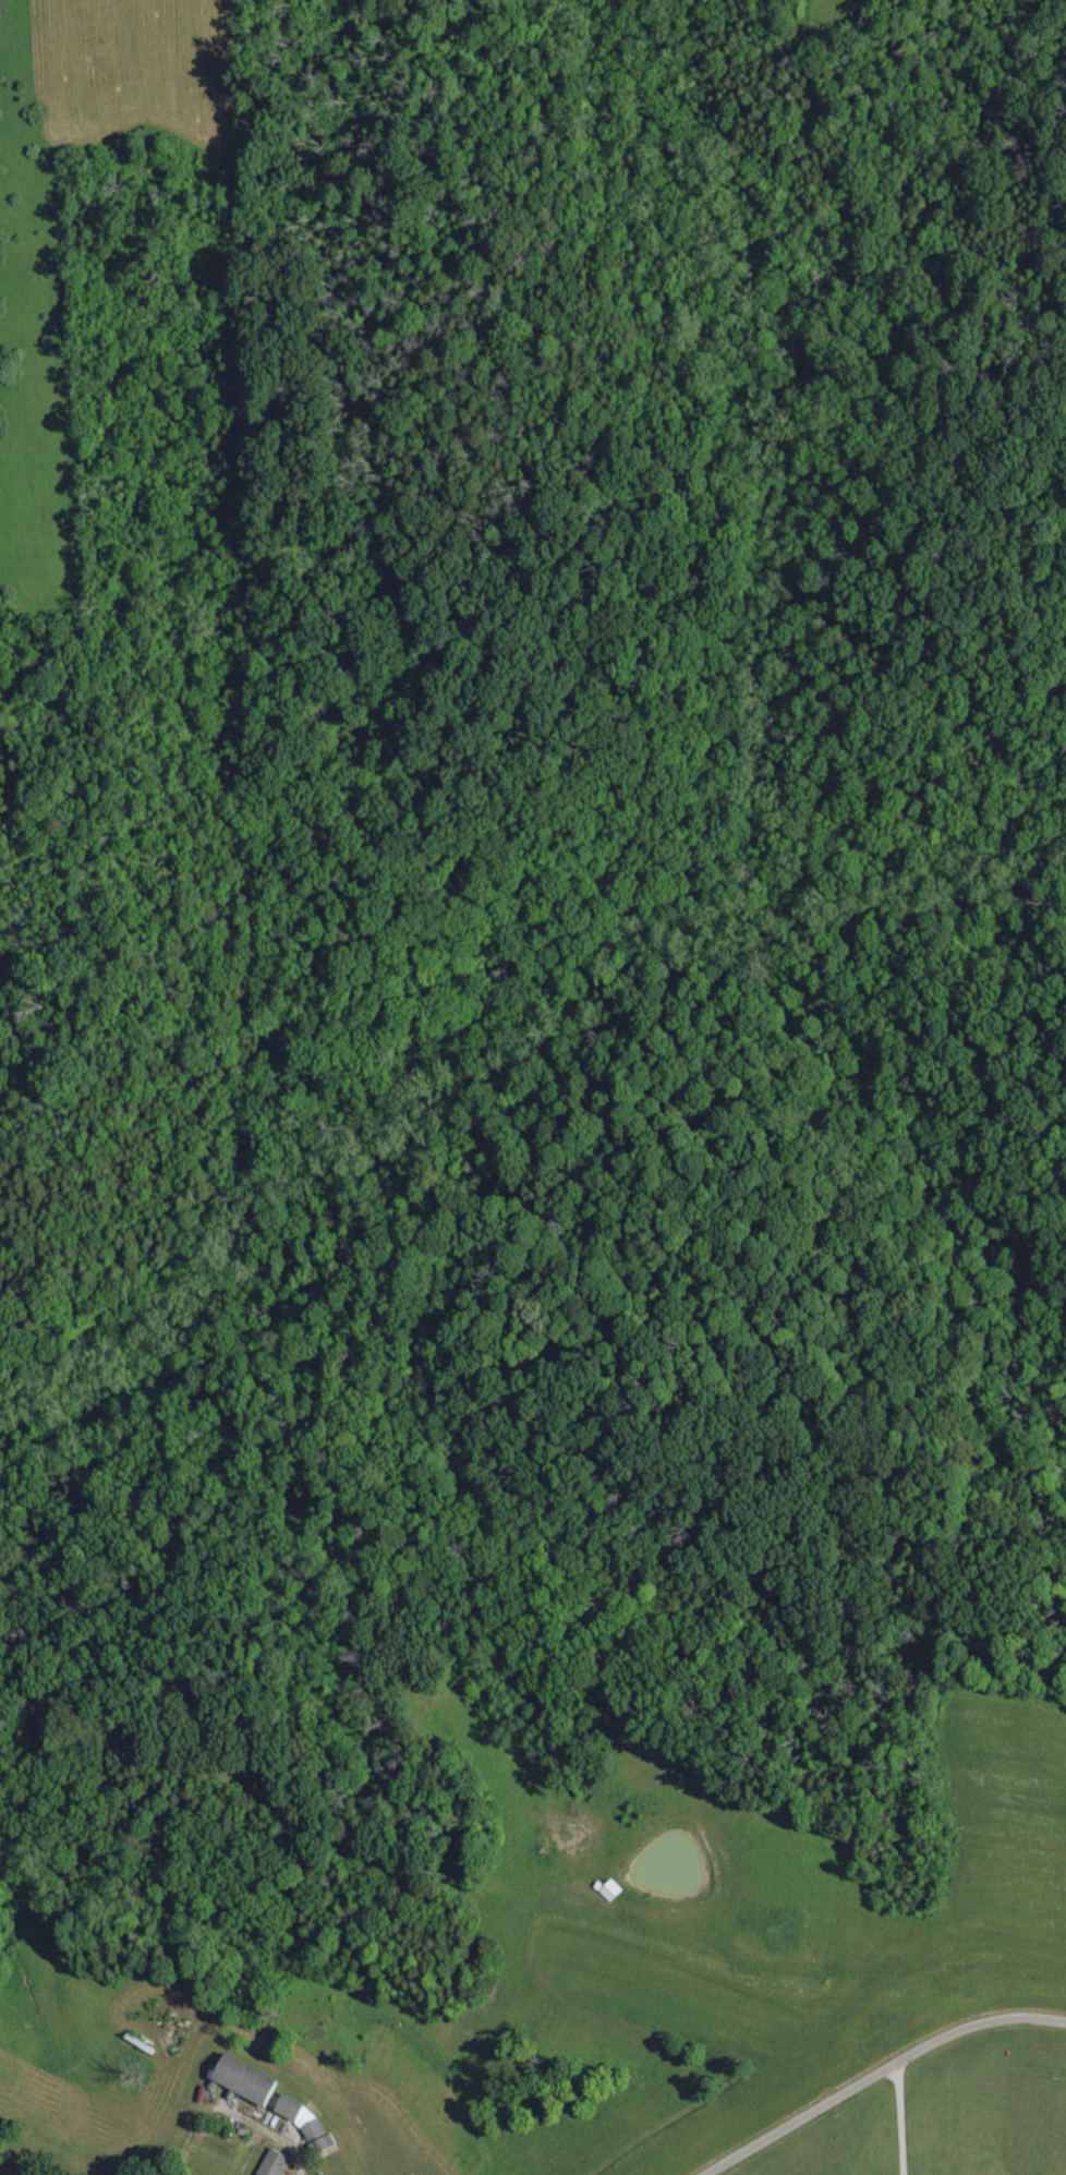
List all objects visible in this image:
road: (886, 2079)
building: (239, 2080)
road: (900, 2124)
building: (268, 2163)
road: (291, 2166)

